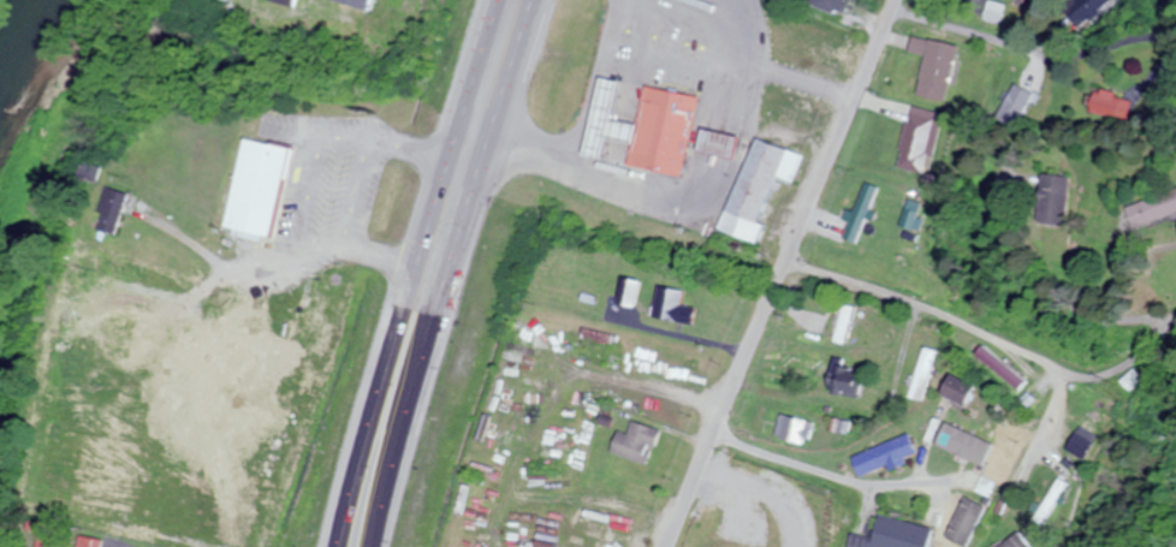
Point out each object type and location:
building: (1028, 0)
building: (290, 2)
building: (360, 2)
building: (831, 6)
building: (1087, 8)
river: (19, 37)
building: (813, 46)
building: (932, 67)
building: (1107, 101)
building: (1016, 106)
building: (648, 126)
building: (917, 138)
building: (719, 144)
building: (94, 171)
building: (758, 188)
building: (265, 190)
building: (1051, 198)
building: (1150, 207)
building: (117, 212)
building: (857, 212)
road: (417, 272)
road: (458, 273)
road: (782, 273)
building: (631, 292)
building: (675, 307)
building: (839, 327)
building: (126, 328)
road: (991, 334)
building: (992, 371)
building: (919, 375)
building: (1129, 380)
building: (842, 381)
building: (952, 391)
building: (791, 430)
building: (636, 444)
building: (969, 447)
building: (883, 456)
road: (837, 476)
building: (1050, 501)
building: (824, 518)
building: (892, 535)
building: (103, 542)
building: (721, 546)

